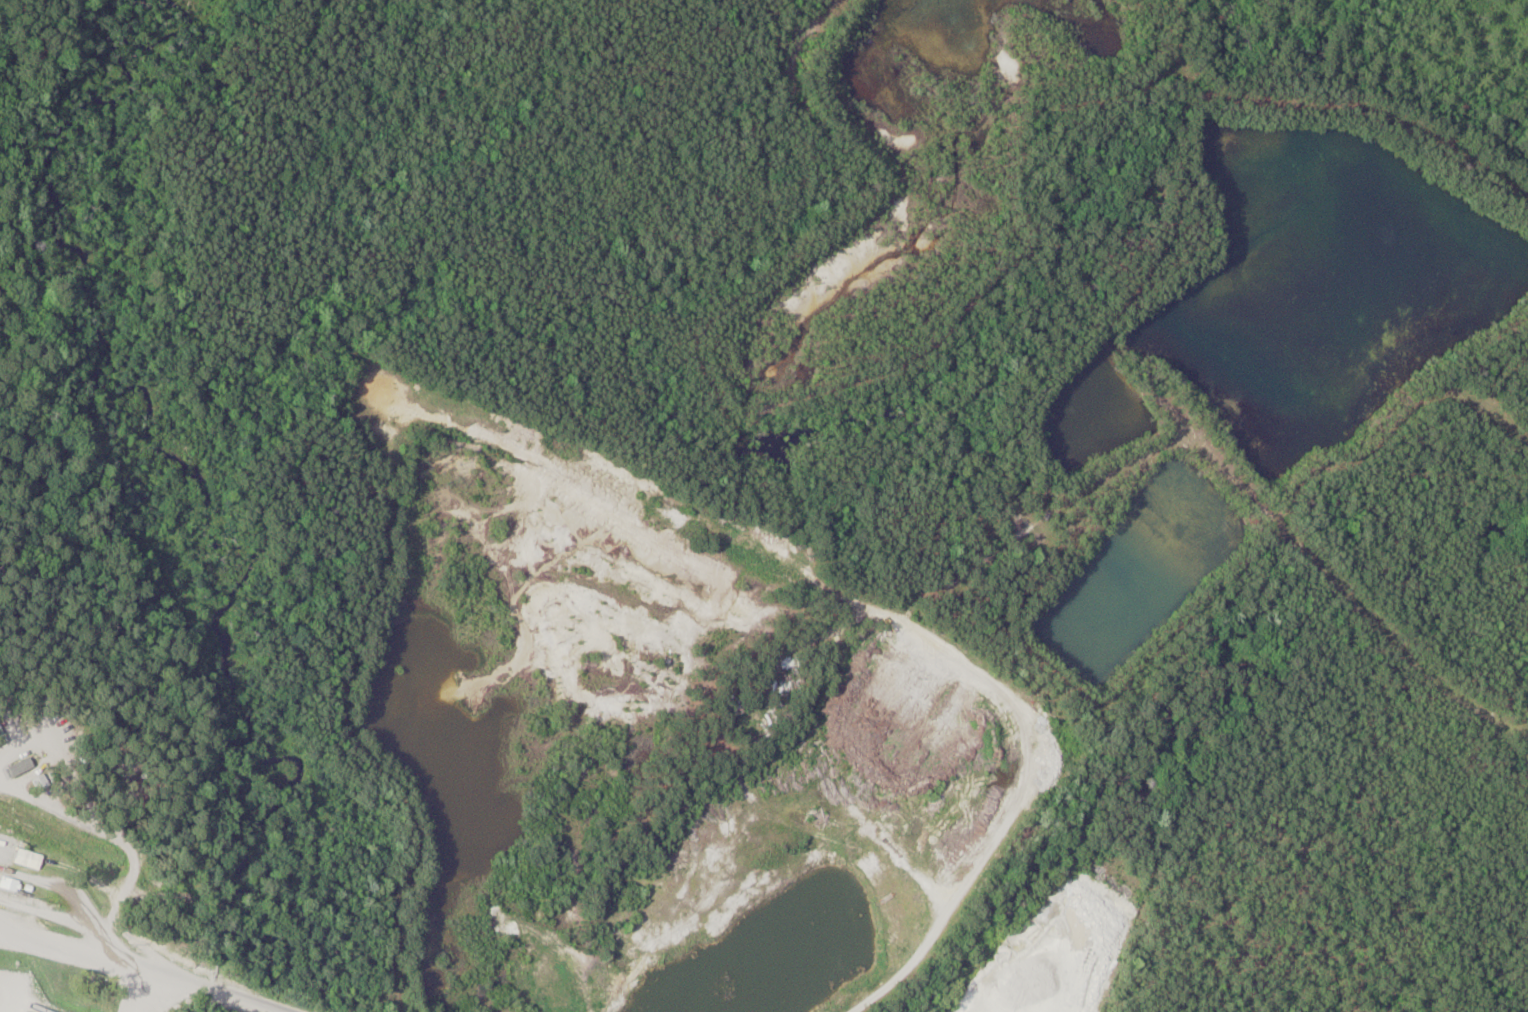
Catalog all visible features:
building: (733, 705)
building: (18, 767)
building: (7, 884)
road: (122, 954)

